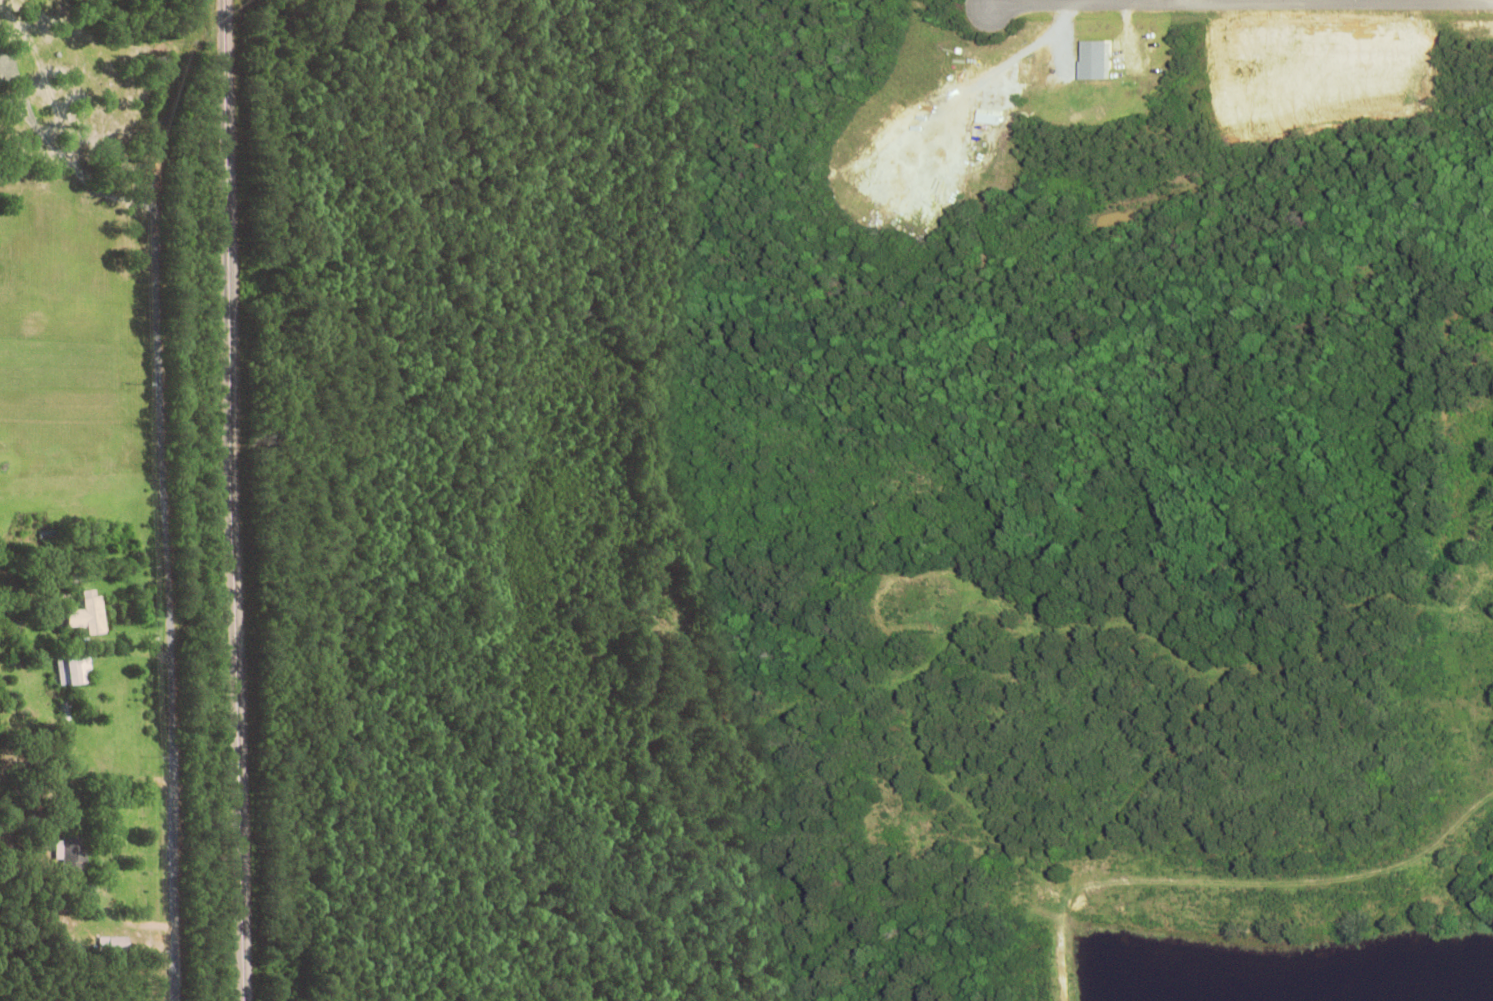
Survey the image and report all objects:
building: (1089, 59)
building: (985, 115)
railway: (231, 500)
road: (158, 528)
building: (85, 612)
building: (70, 670)
building: (73, 848)
building: (115, 944)

